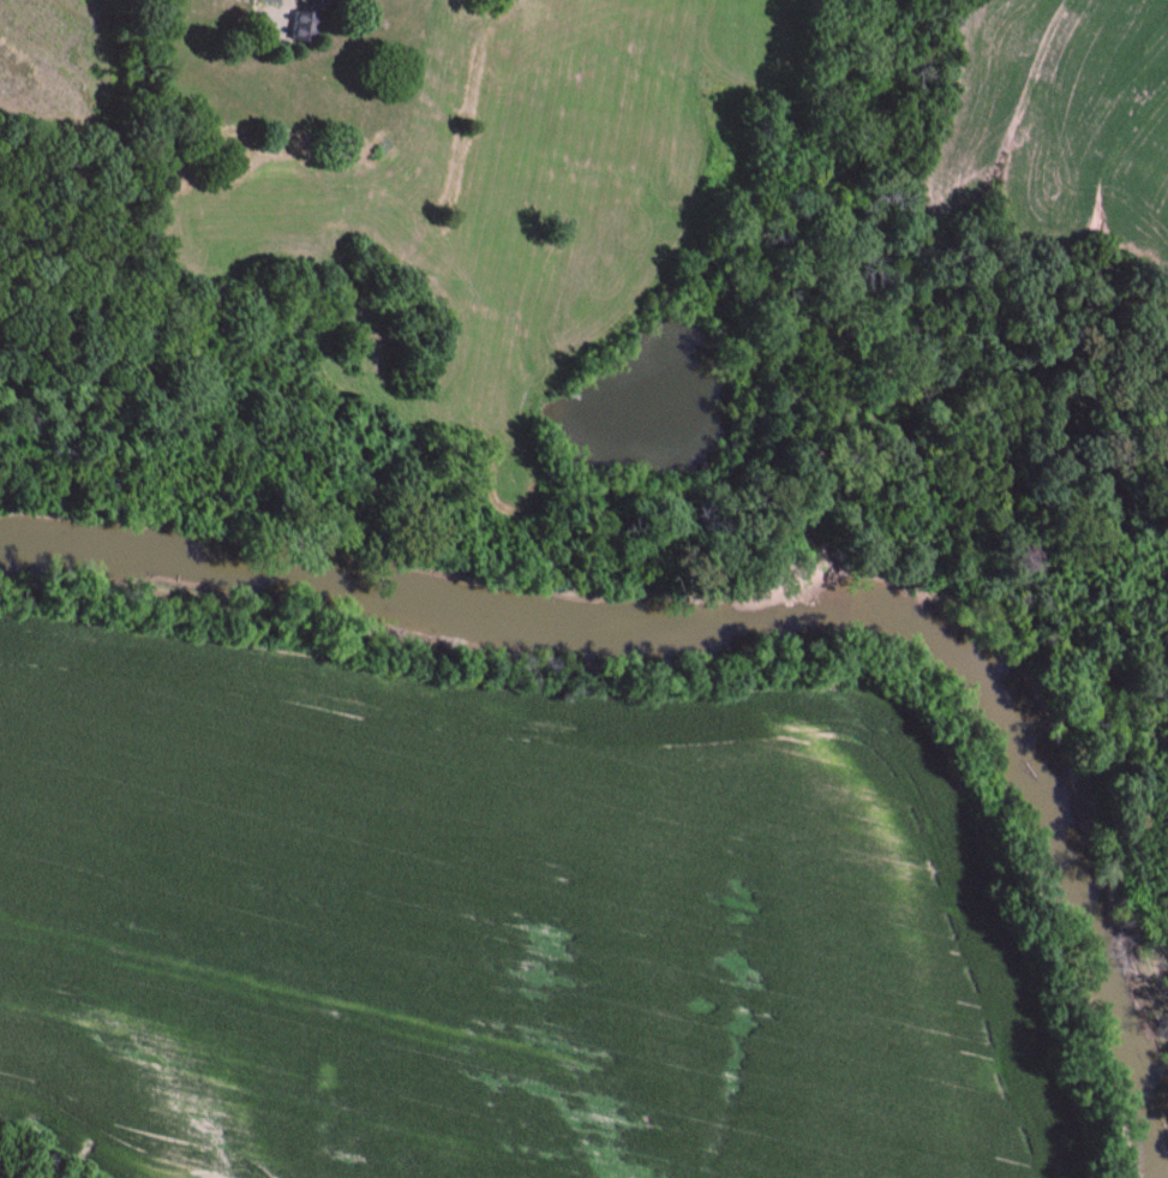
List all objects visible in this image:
building: (270, 1)
building: (340, 2)
road: (287, 11)

